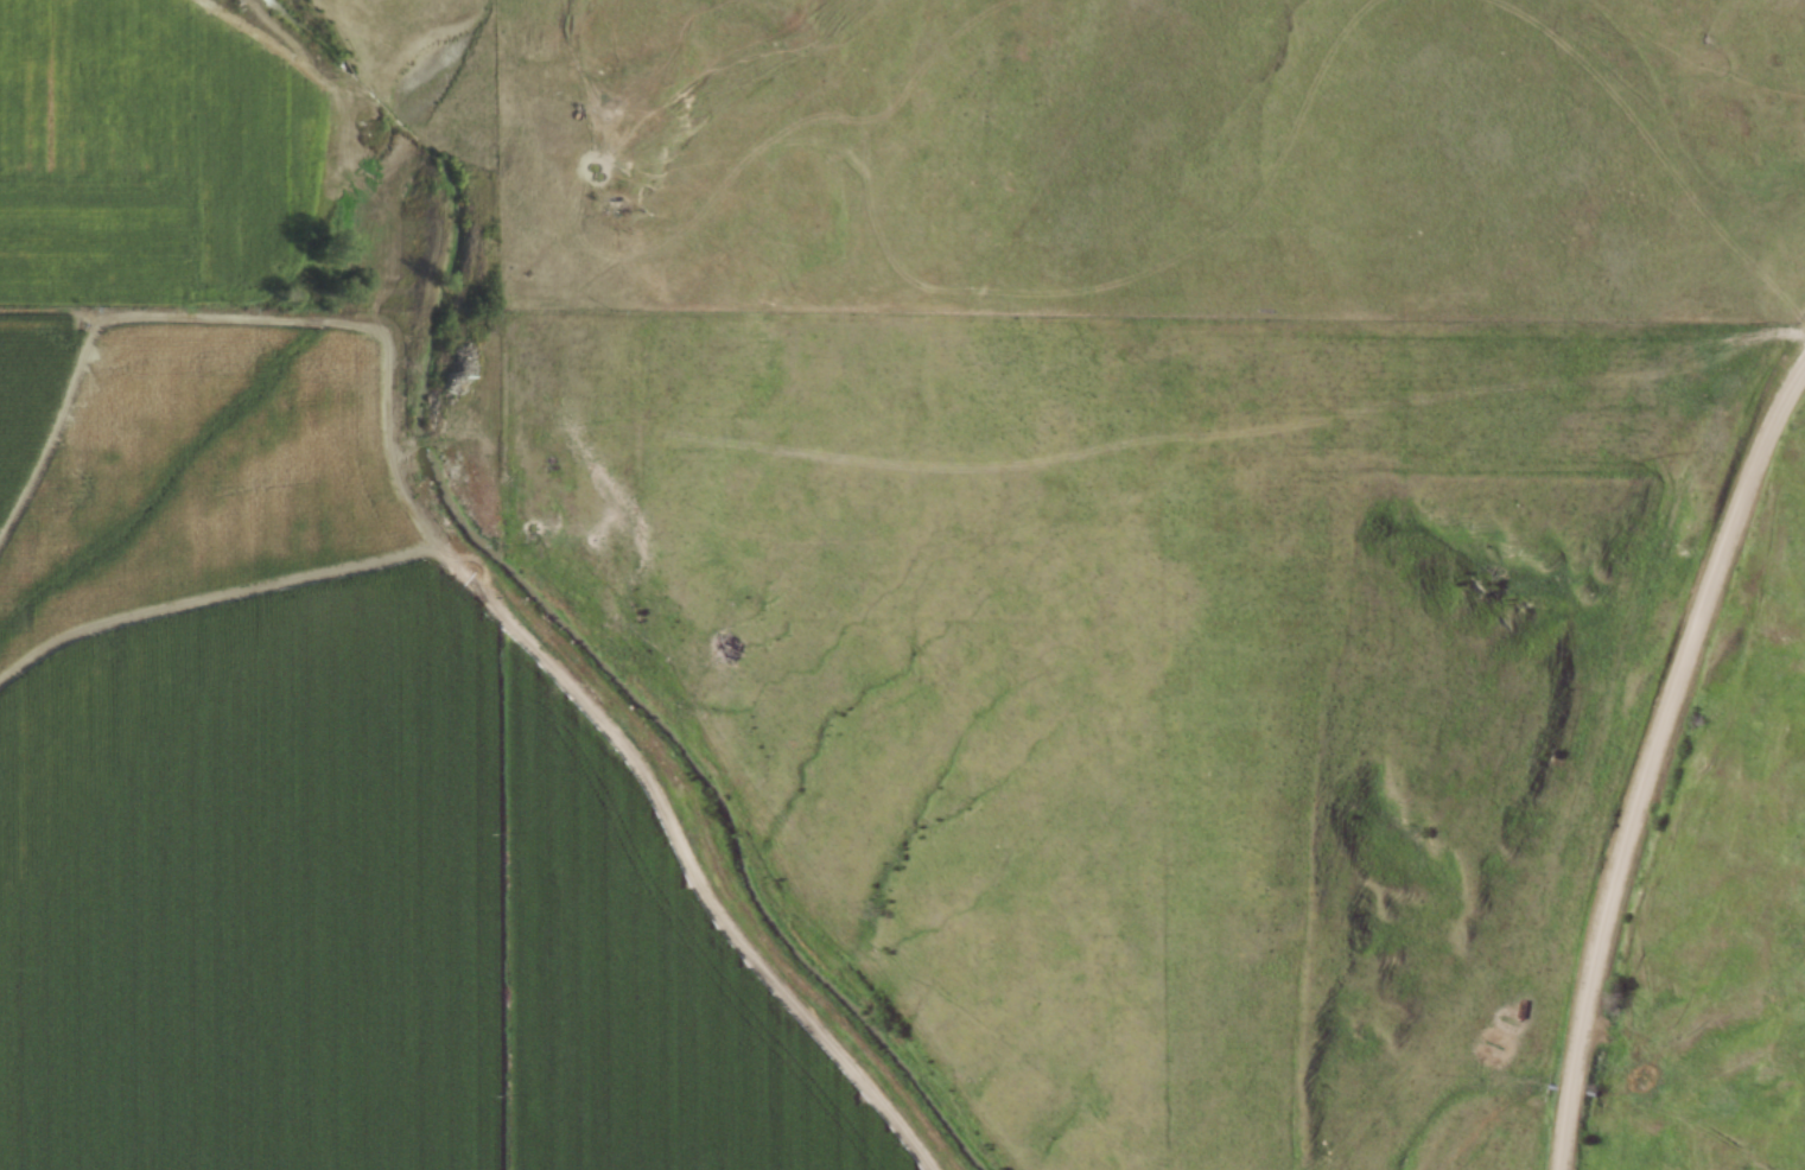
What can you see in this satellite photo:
road: (1652, 756)

